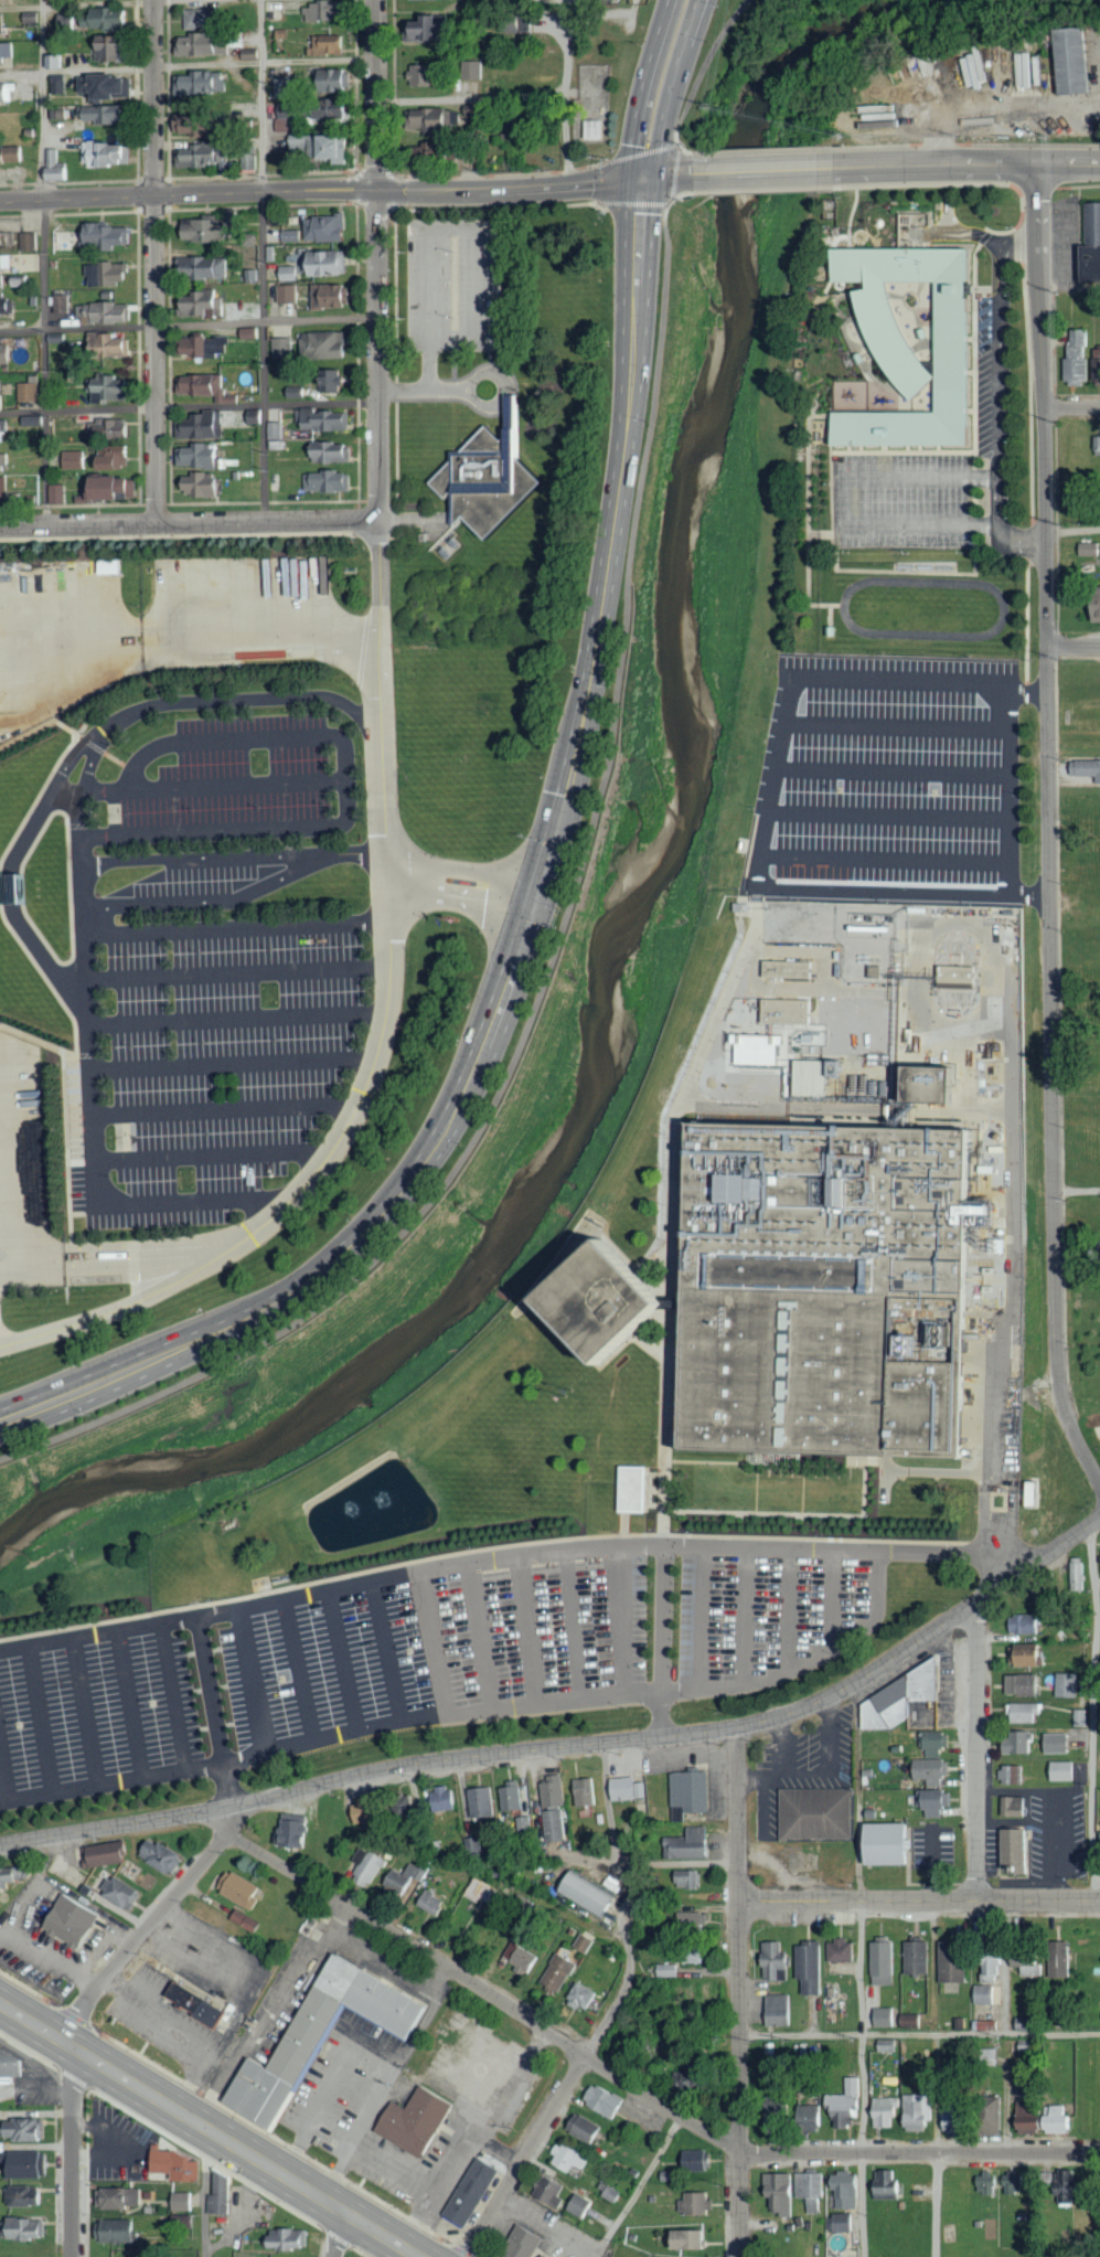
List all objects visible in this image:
building: (1, 0)
road: (77, 4)
building: (328, 11)
building: (109, 18)
building: (205, 19)
building: (70, 21)
building: (3, 23)
building: (437, 30)
building: (205, 44)
building: (332, 44)
road: (697, 46)
building: (117, 49)
building: (7, 51)
building: (58, 61)
road: (709, 61)
building: (1070, 63)
road: (188, 64)
building: (1018, 68)
building: (428, 75)
building: (338, 81)
building: (205, 83)
building: (109, 86)
building: (286, 87)
road: (642, 91)
road: (668, 91)
building: (8, 93)
road: (515, 95)
building: (109, 114)
building: (293, 114)
building: (344, 114)
building: (438, 119)
building: (205, 125)
building: (596, 129)
building: (441, 143)
building: (340, 148)
building: (107, 153)
building: (13, 157)
road: (966, 163)
road: (765, 171)
road: (668, 178)
traffic signals: (641, 182)
road: (509, 190)
road: (188, 195)
building: (912, 220)
building: (214, 228)
building: (330, 228)
road: (452, 232)
road: (955, 232)
building: (111, 235)
building: (297, 236)
building: (6, 239)
building: (31, 242)
road: (1021, 243)
building: (1088, 245)
road: (261, 260)
road: (377, 260)
road: (43, 262)
road: (154, 262)
building: (7, 263)
building: (328, 263)
building: (212, 268)
building: (291, 273)
building: (111, 274)
building: (2, 283)
parking lot: (453, 284)
road: (1071, 286)
building: (289, 294)
building: (335, 296)
building: (64, 304)
building: (8, 305)
building: (206, 305)
road: (188, 322)
building: (254, 332)
building: (113, 344)
building: (329, 344)
building: (209, 347)
building: (286, 348)
building: (894, 349)
building: (7, 354)
building: (1072, 356)
road: (1000, 361)
building: (1094, 366)
building: (334, 380)
road: (473, 381)
building: (207, 386)
building: (113, 388)
building: (31, 392)
building: (4, 395)
road: (189, 405)
road: (1072, 407)
building: (327, 419)
building: (115, 425)
building: (204, 426)
building: (4, 430)
building: (276, 430)
building: (334, 453)
building: (203, 456)
building: (116, 458)
building: (4, 461)
parking lot: (935, 475)
building: (330, 481)
building: (494, 481)
building: (203, 485)
building: (117, 488)
building: (8, 489)
building: (58, 493)
road: (842, 500)
road: (199, 523)
road: (1072, 529)
road: (1000, 531)
road: (189, 535)
building: (1086, 550)
building: (1091, 605)
track: (1002, 607)
road: (193, 648)
road: (1074, 648)
road: (899, 683)
road: (1029, 686)
road: (382, 707)
road: (896, 722)
road: (221, 739)
road: (82, 745)
road: (893, 766)
building: (1085, 769)
road: (349, 779)
parking lot: (889, 781)
road: (214, 784)
road: (770, 784)
road: (1011, 790)
road: (888, 811)
road: (1050, 827)
road: (213, 829)
road: (234, 855)
road: (886, 856)
road: (83, 864)
road: (464, 872)
road: (284, 874)
road: (903, 892)
river: (633, 895)
road: (161, 902)
road: (460, 903)
building: (743, 906)
traffic signals: (534, 907)
flagpole: (442, 920)
flagpole: (453, 920)
road: (235, 926)
road: (563, 928)
road: (525, 930)
parking lot: (223, 965)
building: (787, 968)
road: (237, 972)
building: (957, 977)
building: (1, 1003)
building: (786, 1011)
road: (236, 1018)
building: (752, 1047)
road: (234, 1063)
building: (812, 1075)
building: (927, 1082)
road: (226, 1108)
road: (844, 1110)
road: (1012, 1127)
road: (214, 1154)
road: (1077, 1189)
road: (290, 1195)
road: (103, 1204)
road: (672, 1207)
building: (997, 1246)
road: (104, 1264)
building: (808, 1292)
road: (932, 1473)
building: (631, 1489)
road: (509, 1559)
building: (1074, 1577)
road: (833, 1600)
road: (788, 1611)
road: (745, 1617)
road: (701, 1619)
road: (622, 1623)
building: (1019, 1623)
road: (574, 1628)
road: (527, 1632)
road: (482, 1638)
road: (663, 1640)
road: (435, 1647)
road: (388, 1654)
building: (1019, 1657)
parking lot: (425, 1659)
road: (345, 1663)
road: (807, 1663)
road: (303, 1671)
road: (253, 1681)
building: (1017, 1684)
building: (1062, 1684)
road: (173, 1695)
building: (895, 1697)
road: (129, 1704)
road: (85, 1712)
road: (214, 1712)
building: (1019, 1713)
road: (1092, 1713)
road: (40, 1720)
road: (330, 1740)
building: (1015, 1742)
building: (931, 1743)
building: (1054, 1743)
road: (575, 1746)
road: (976, 1752)
building: (927, 1770)
building: (1058, 1770)
building: (1010, 1774)
road: (4, 1775)
building: (623, 1789)
building: (581, 1791)
building: (685, 1793)
building: (509, 1796)
building: (439, 1798)
building: (479, 1801)
building: (929, 1801)
building: (399, 1803)
building: (1012, 1807)
building: (551, 1808)
building: (360, 1813)
building: (812, 1813)
road: (228, 1820)
building: (297, 1833)
building: (877, 1843)
building: (682, 1844)
building: (1010, 1850)
building: (110, 1854)
building: (164, 1855)
road: (591, 1857)
building: (365, 1870)
building: (11, 1876)
building: (402, 1877)
building: (683, 1878)
building: (243, 1888)
building: (124, 1892)
building: (581, 1894)
road: (918, 1899)
building: (428, 1903)
building: (72, 1919)
building: (686, 1920)
road: (140, 1934)
building: (581, 1944)
building: (839, 1950)
building: (688, 1953)
building: (515, 1955)
building: (912, 1958)
building: (1056, 1959)
building: (770, 1960)
building: (879, 1963)
building: (949, 1963)
building: (807, 1967)
building: (1027, 1967)
road: (397, 1969)
building: (664, 1970)
road: (858, 1970)
building: (986, 1970)
building: (555, 1973)
building: (1096, 1973)
road: (738, 1992)
building: (982, 1994)
building: (578, 1997)
building: (195, 2003)
building: (773, 2010)
road: (273, 2011)
road: (609, 2015)
building: (880, 2016)
building: (906, 2021)
road: (919, 2032)
building: (320, 2034)
building: (13, 2063)
building: (680, 2080)
road: (330, 2088)
road: (634, 2088)
road: (380, 2094)
building: (598, 2100)
building: (842, 2102)
road: (236, 2111)
building: (912, 2111)
building: (880, 2112)
building: (987, 2116)
building: (804, 2117)
building: (415, 2119)
building: (944, 2119)
building: (579, 2128)
road: (210, 2129)
building: (20, 2130)
road: (936, 2144)
road: (73, 2153)
building: (564, 2158)
building: (692, 2160)
building: (20, 2164)
building: (171, 2165)
building: (883, 2182)
building: (982, 2183)
road: (636, 2186)
building: (1057, 2189)
building: (808, 2190)
building: (842, 2190)
building: (471, 2191)
building: (546, 2192)
building: (776, 2192)
road: (205, 2193)
building: (609, 2193)
building: (217, 2194)
building: (20, 2196)
building: (116, 2197)
building: (179, 2202)
building: (692, 2203)
building: (577, 2206)
building: (840, 2222)
building: (21, 2228)
road: (339, 2234)
building: (684, 2237)
building: (282, 2239)
building: (522, 2242)
building: (546, 2255)

